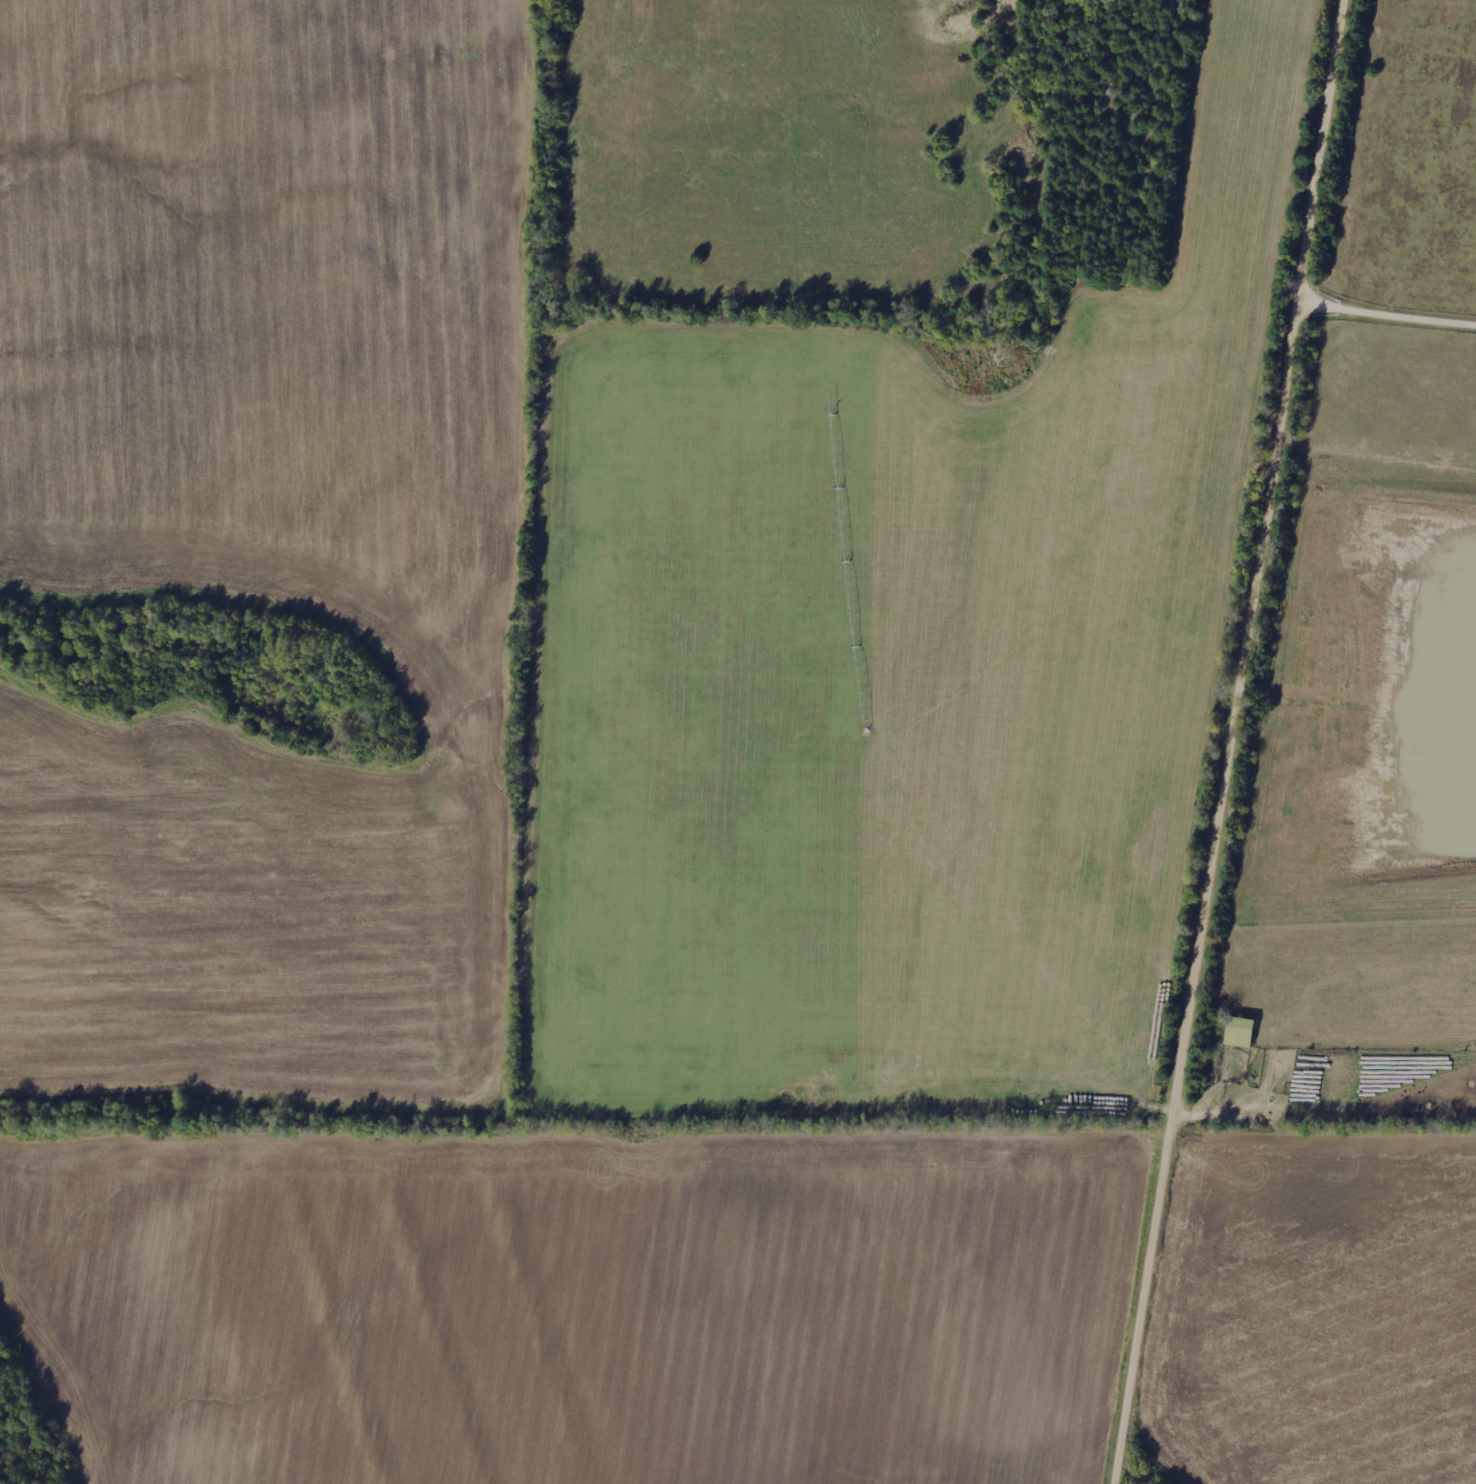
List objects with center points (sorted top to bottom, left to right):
road: (1237, 742)
building: (1241, 1032)

